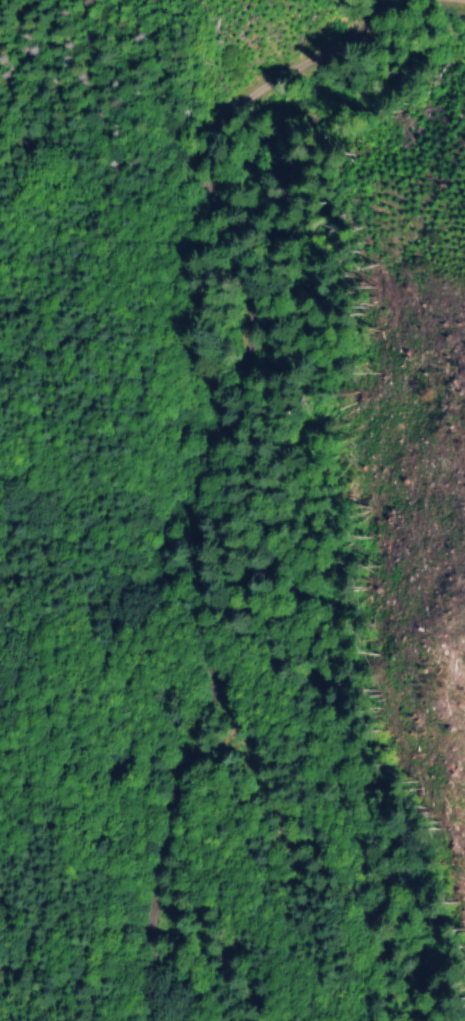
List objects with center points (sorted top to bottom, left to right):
road: (213, 493)

